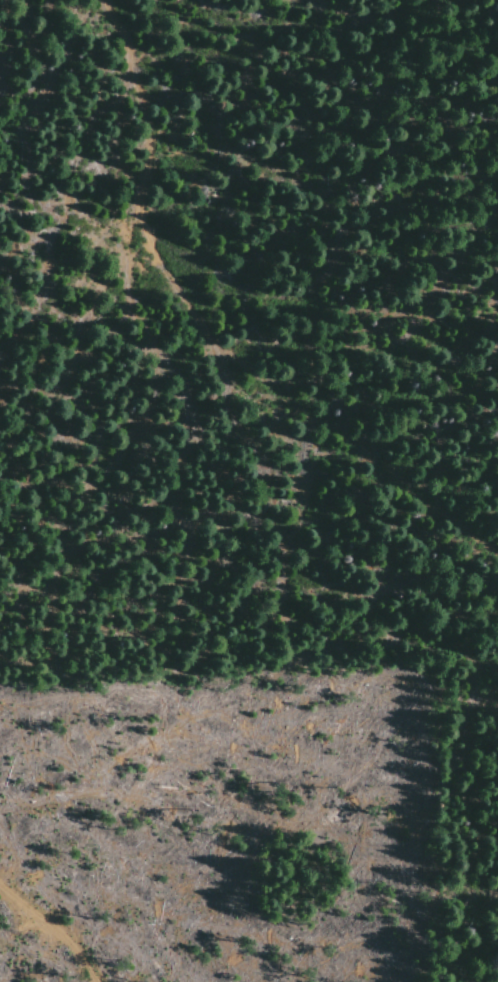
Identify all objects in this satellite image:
road: (206, 334)
road: (53, 928)

